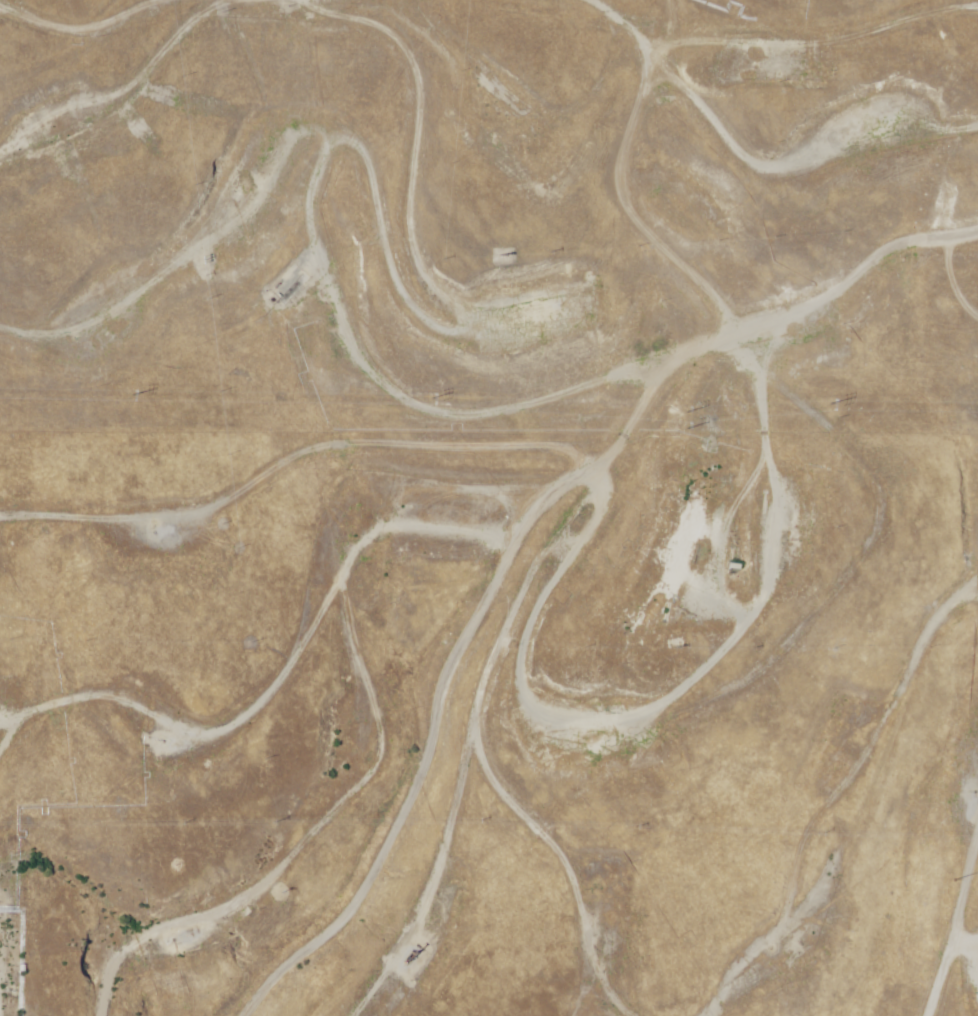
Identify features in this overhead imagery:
road: (445, 10)
road: (70, 61)
road: (30, 78)
road: (547, 100)
road: (320, 112)
road: (735, 133)
road: (176, 243)
road: (407, 269)
road: (735, 364)
road: (533, 487)
road: (365, 582)
road: (300, 650)
road: (385, 750)
road: (469, 785)
road: (812, 785)
road: (298, 791)
road: (396, 833)
road: (929, 847)
road: (916, 979)

